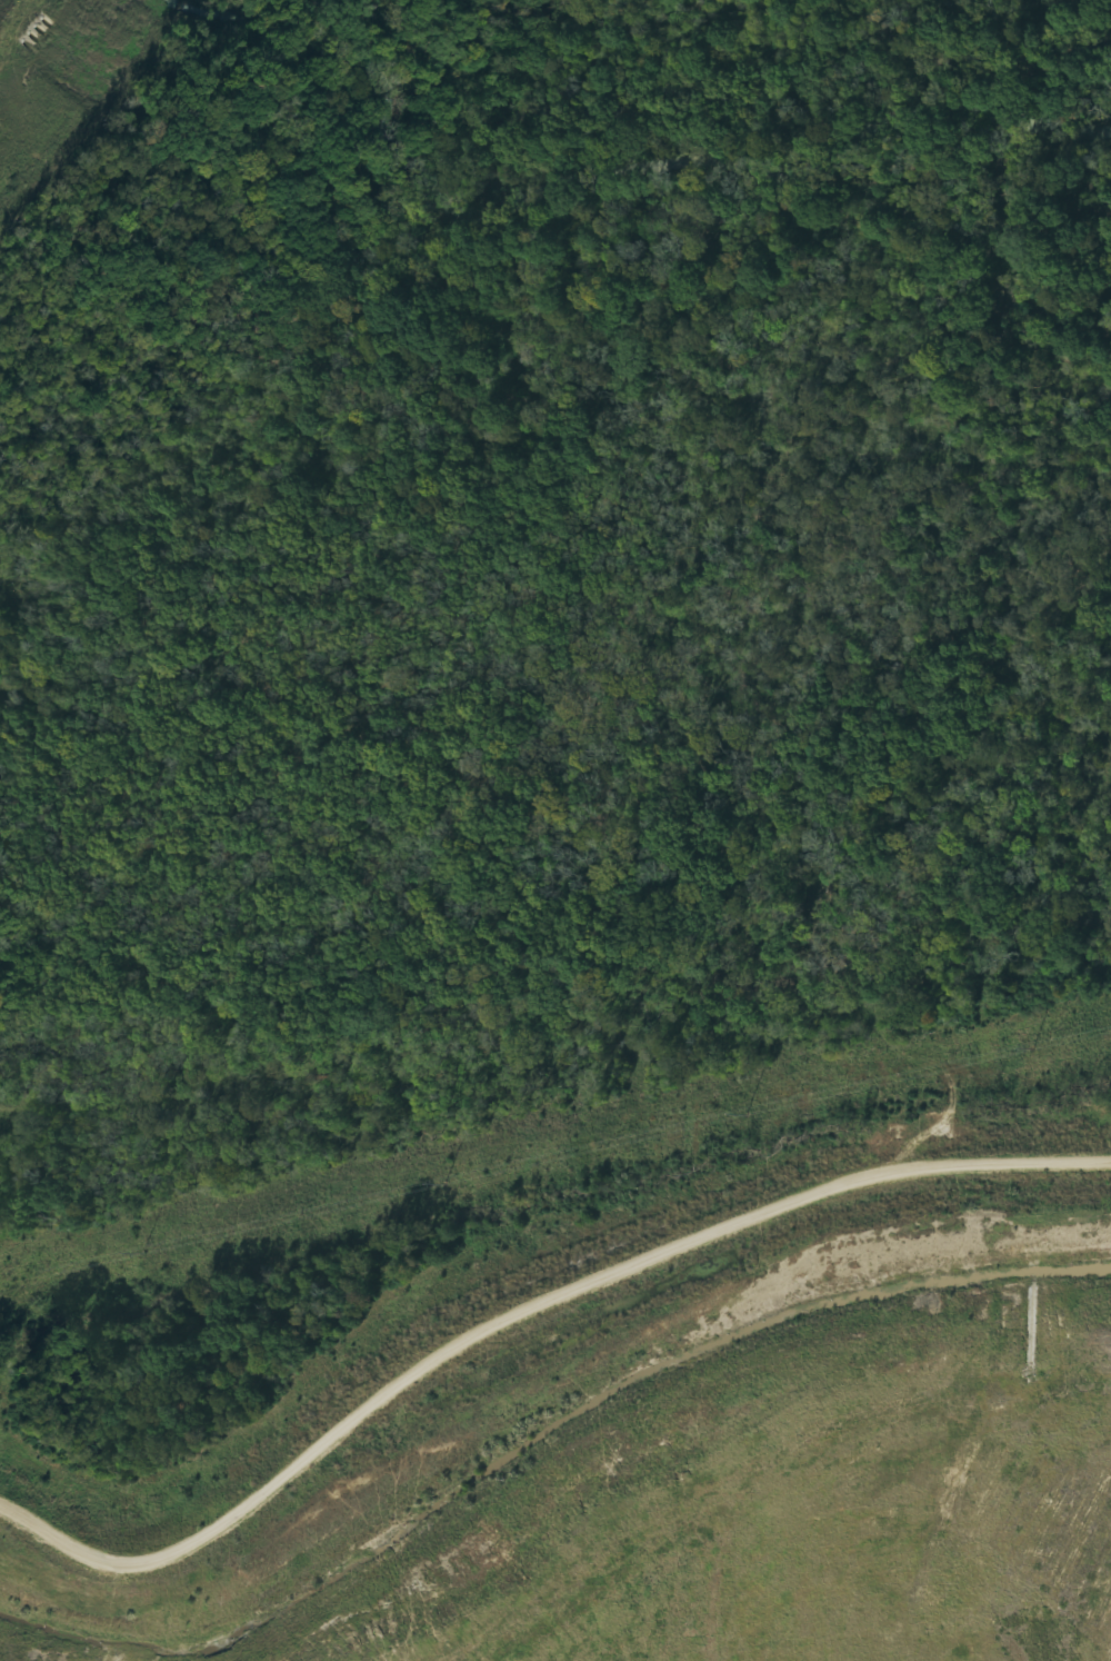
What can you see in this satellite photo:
quarry: (38, 41)
quarry: (1092, 1469)

